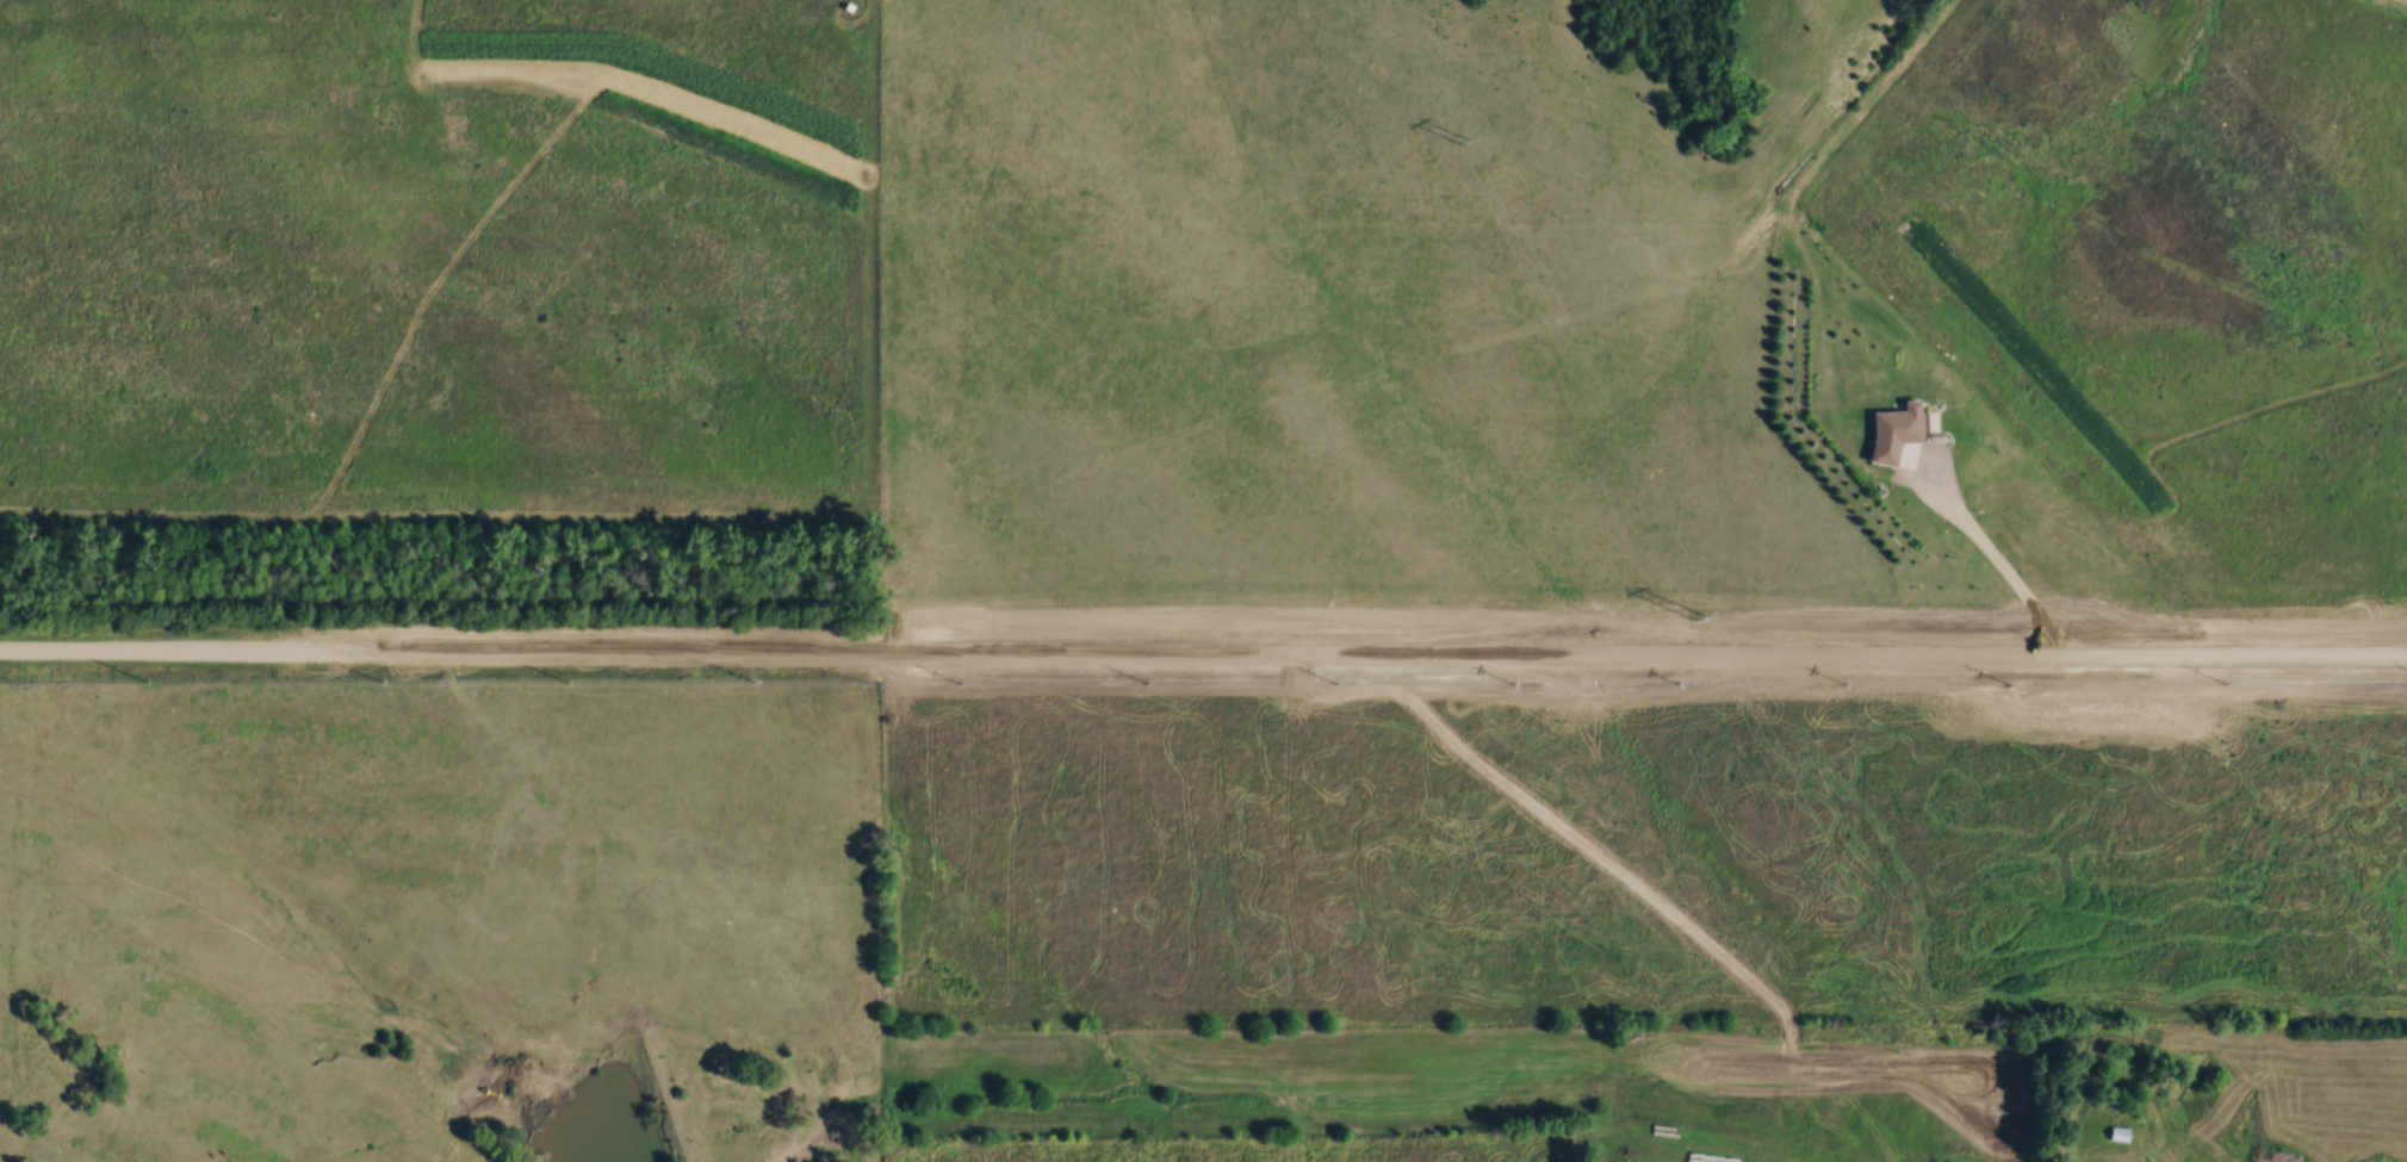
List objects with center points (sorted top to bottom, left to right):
power tower: (1469, 141)
power tower: (1707, 622)
road: (1203, 658)

